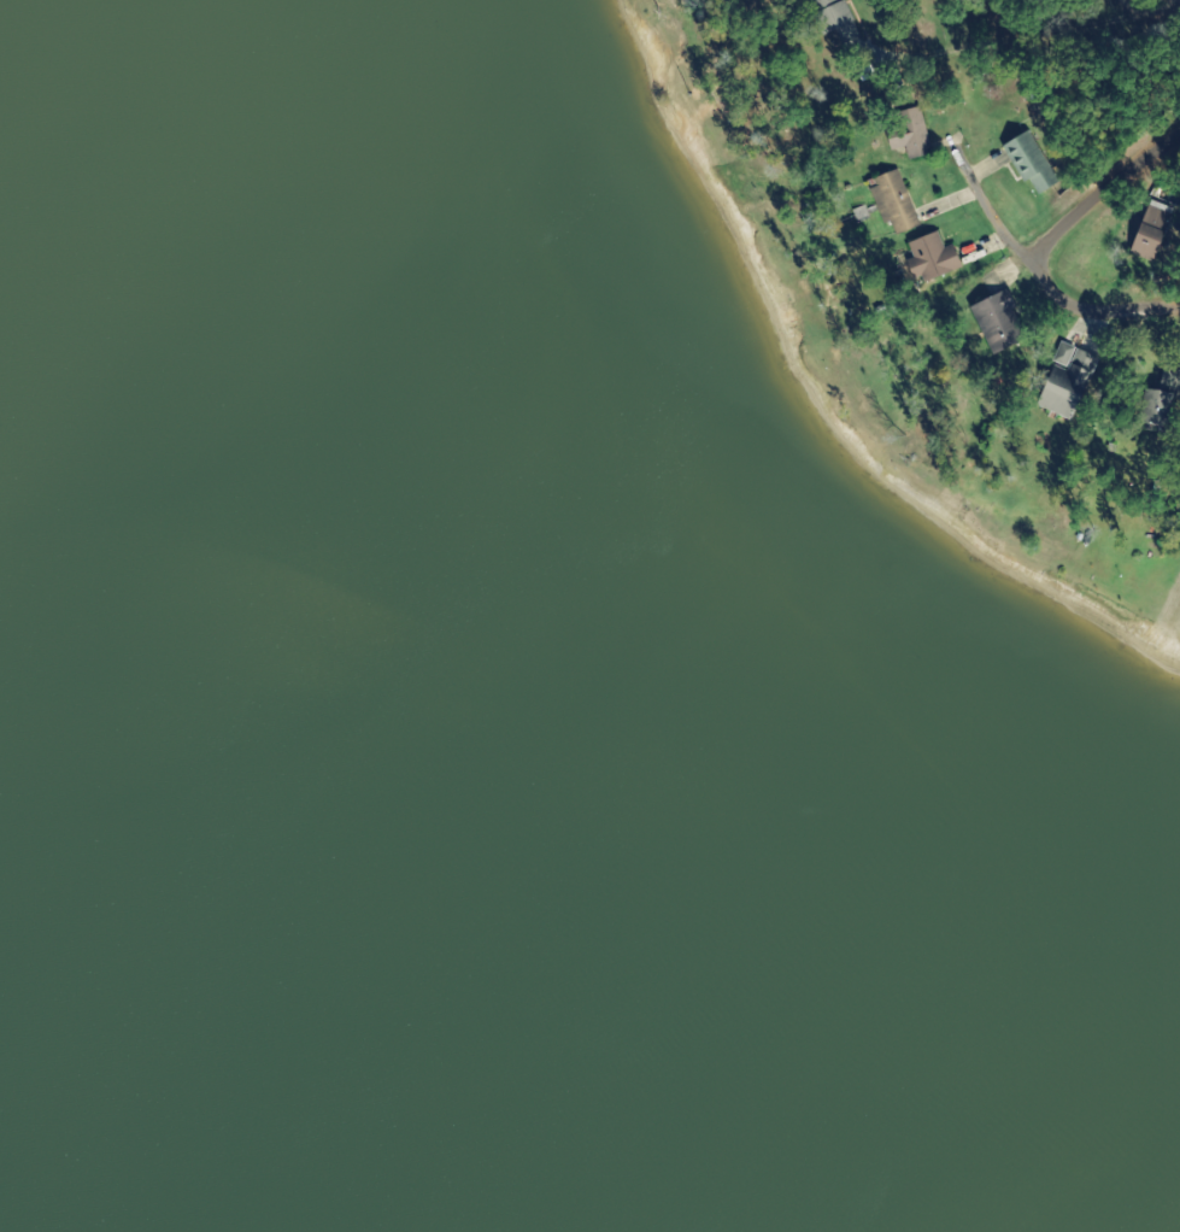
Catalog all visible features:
building: (833, 18)
building: (911, 134)
building: (1028, 162)
road: (979, 172)
building: (893, 203)
road: (1126, 203)
building: (1150, 229)
road: (1097, 300)
building: (997, 321)
building: (1075, 366)
building: (1055, 401)
building: (1157, 403)

